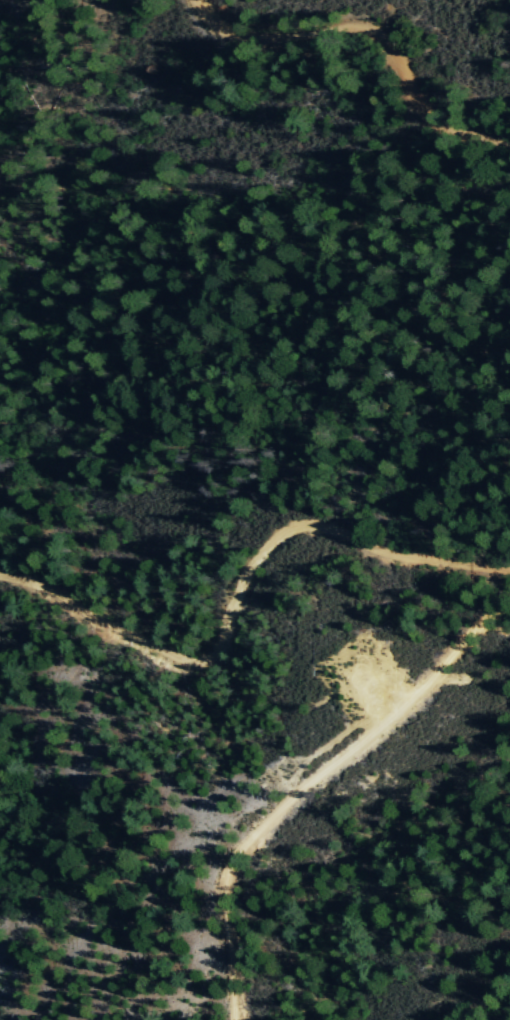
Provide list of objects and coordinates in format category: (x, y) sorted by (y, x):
road: (366, 38)
park: (421, 43)
park: (272, 265)
road: (238, 583)
park: (498, 705)
road: (309, 780)

